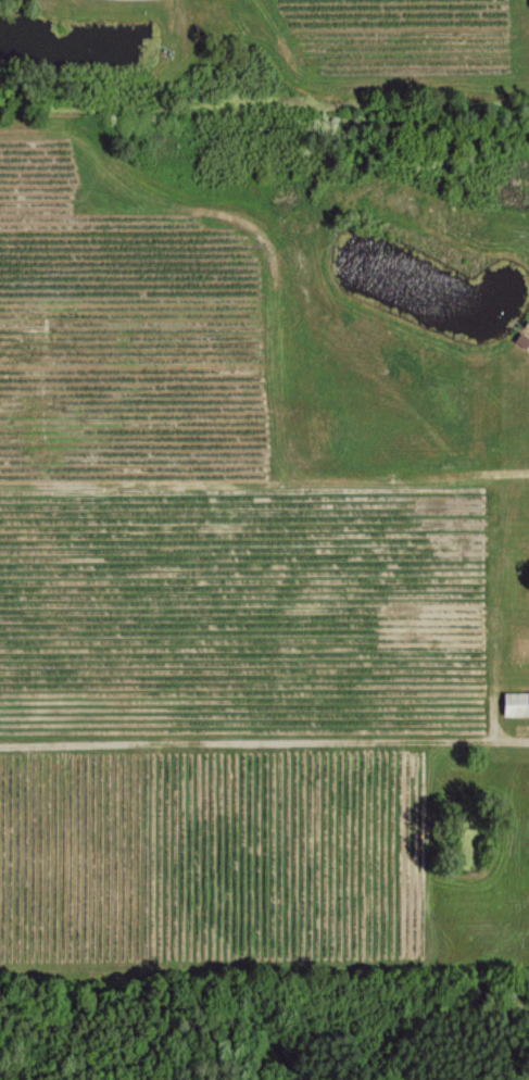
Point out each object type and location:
building: (514, 703)

